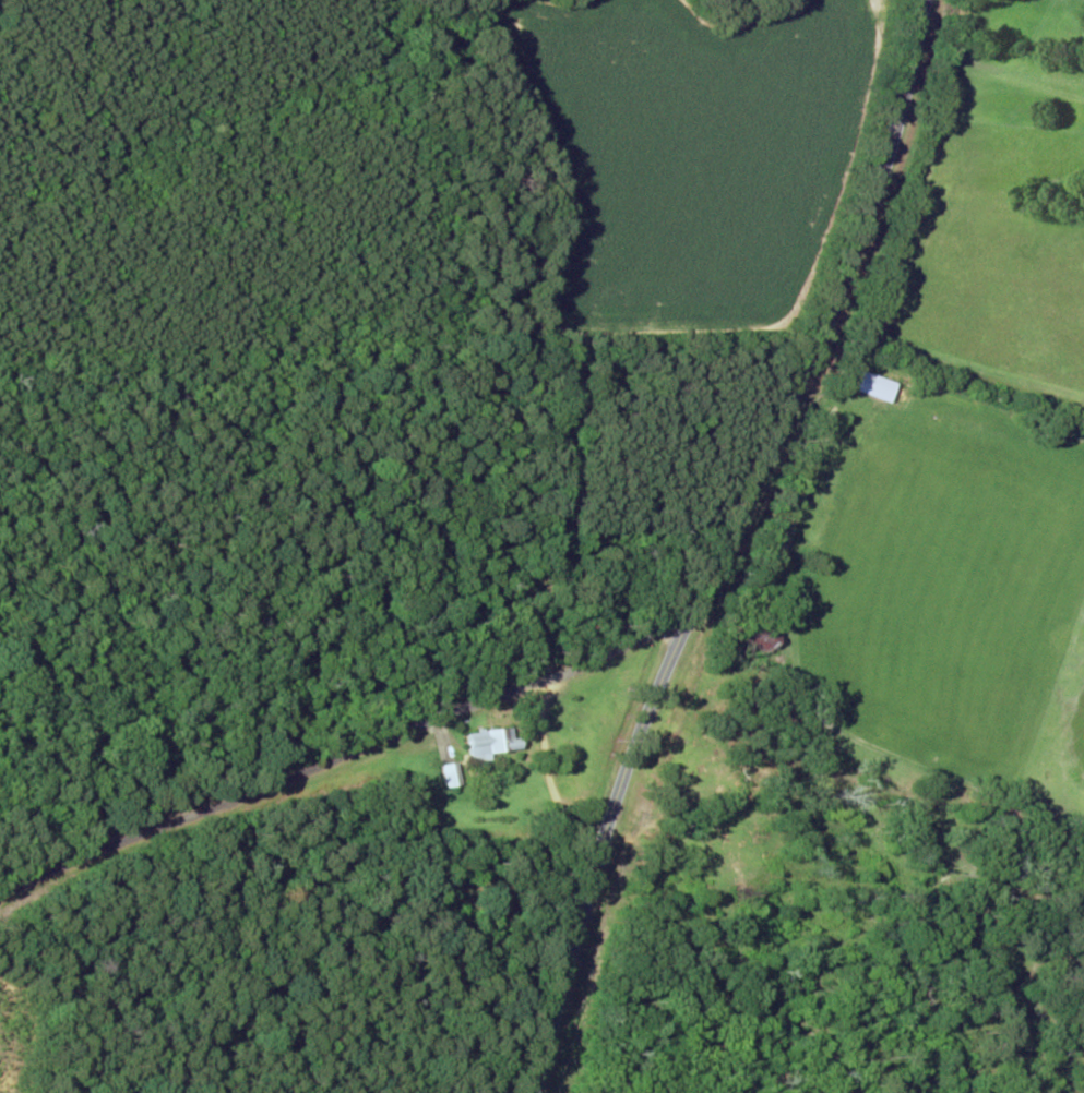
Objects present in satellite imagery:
road: (757, 548)
building: (493, 742)
building: (454, 773)
road: (336, 801)

